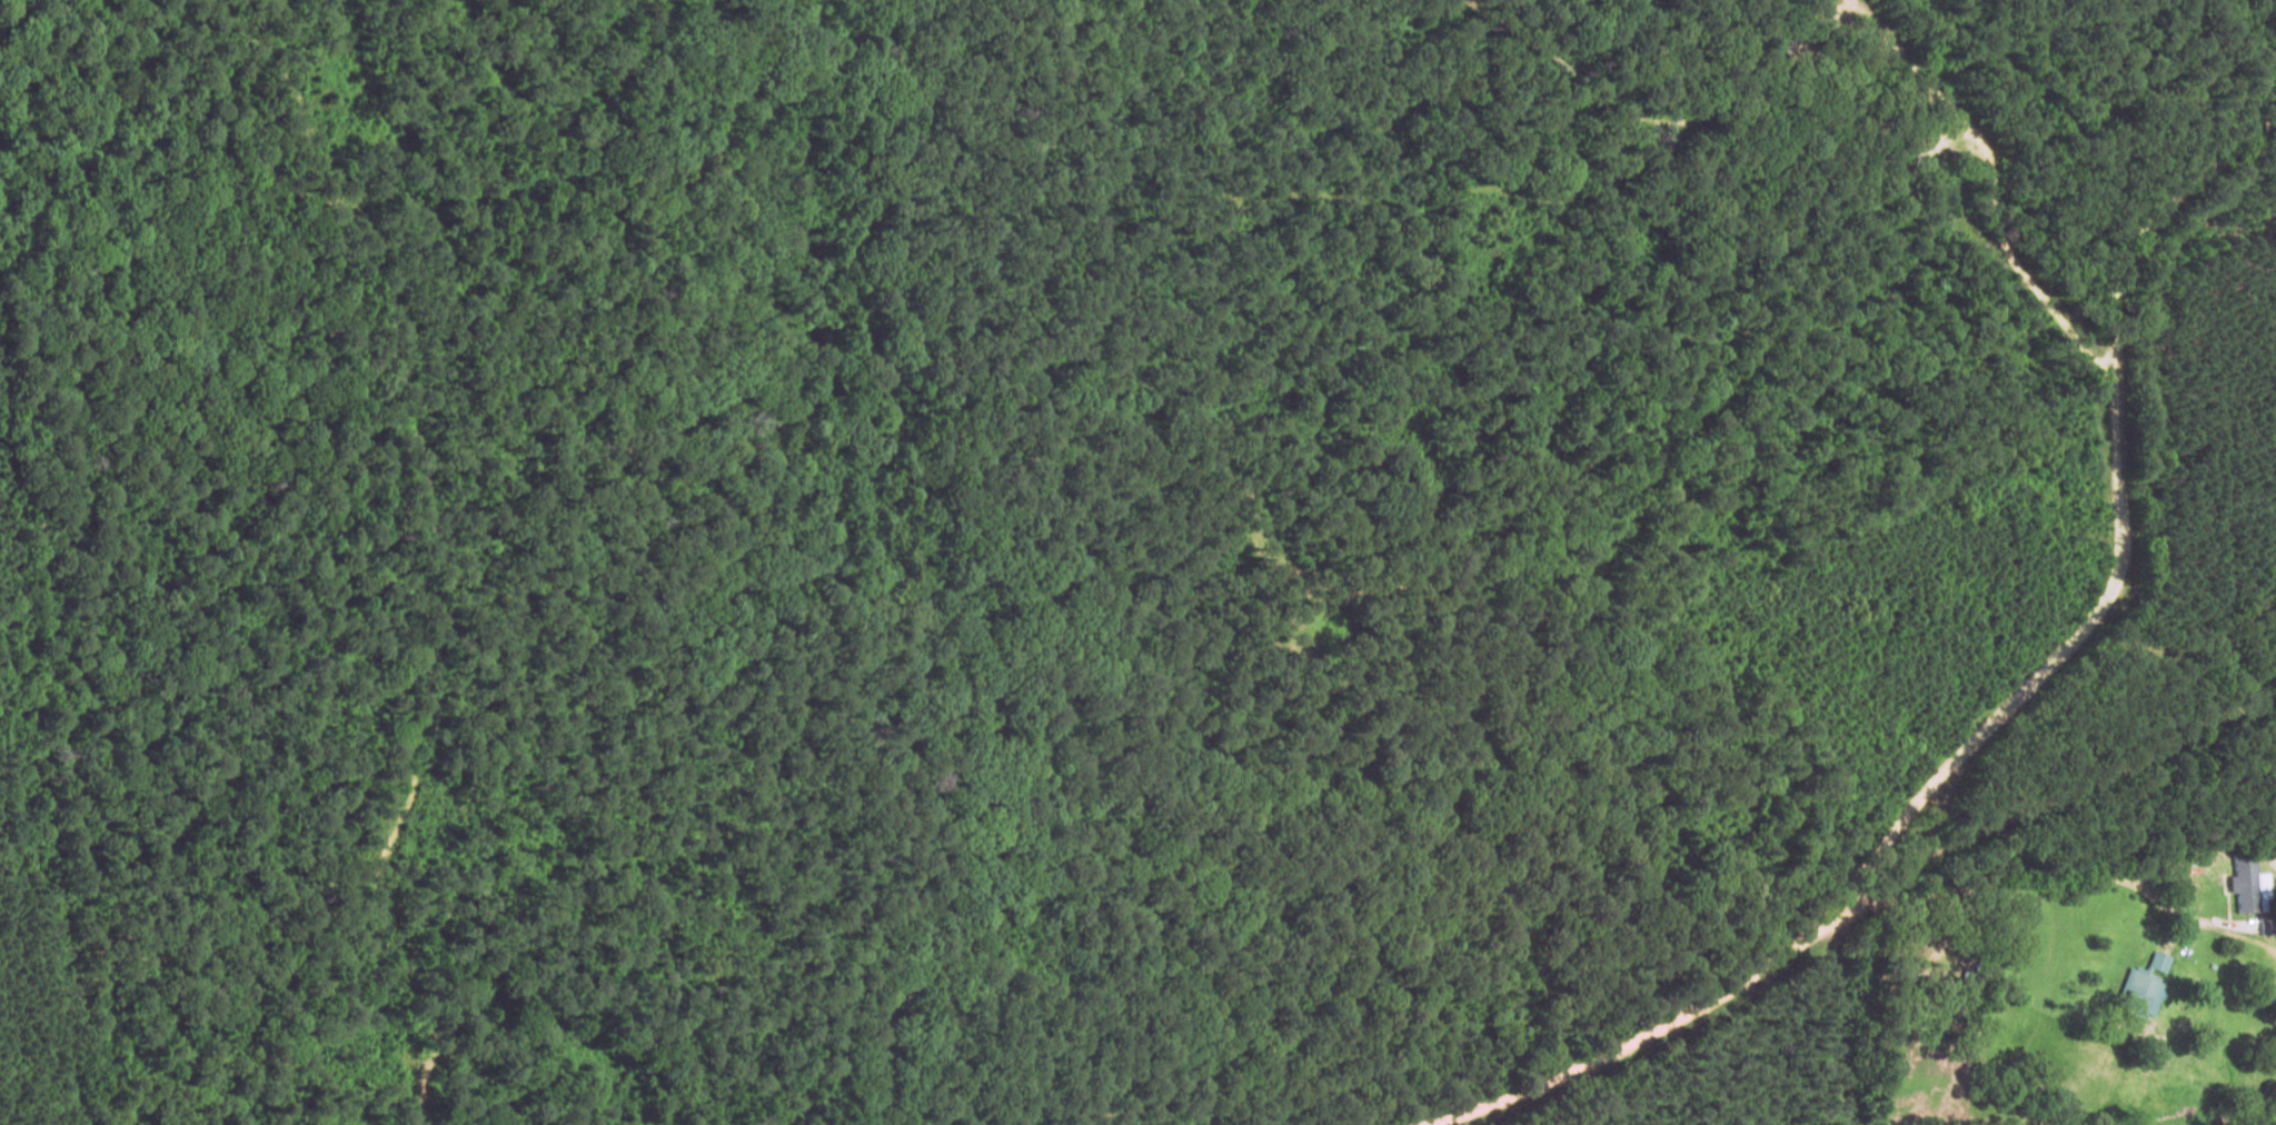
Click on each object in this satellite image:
road: (2021, 738)
building: (2240, 885)
building: (2155, 960)
building: (2137, 993)
road: (1658, 1093)

